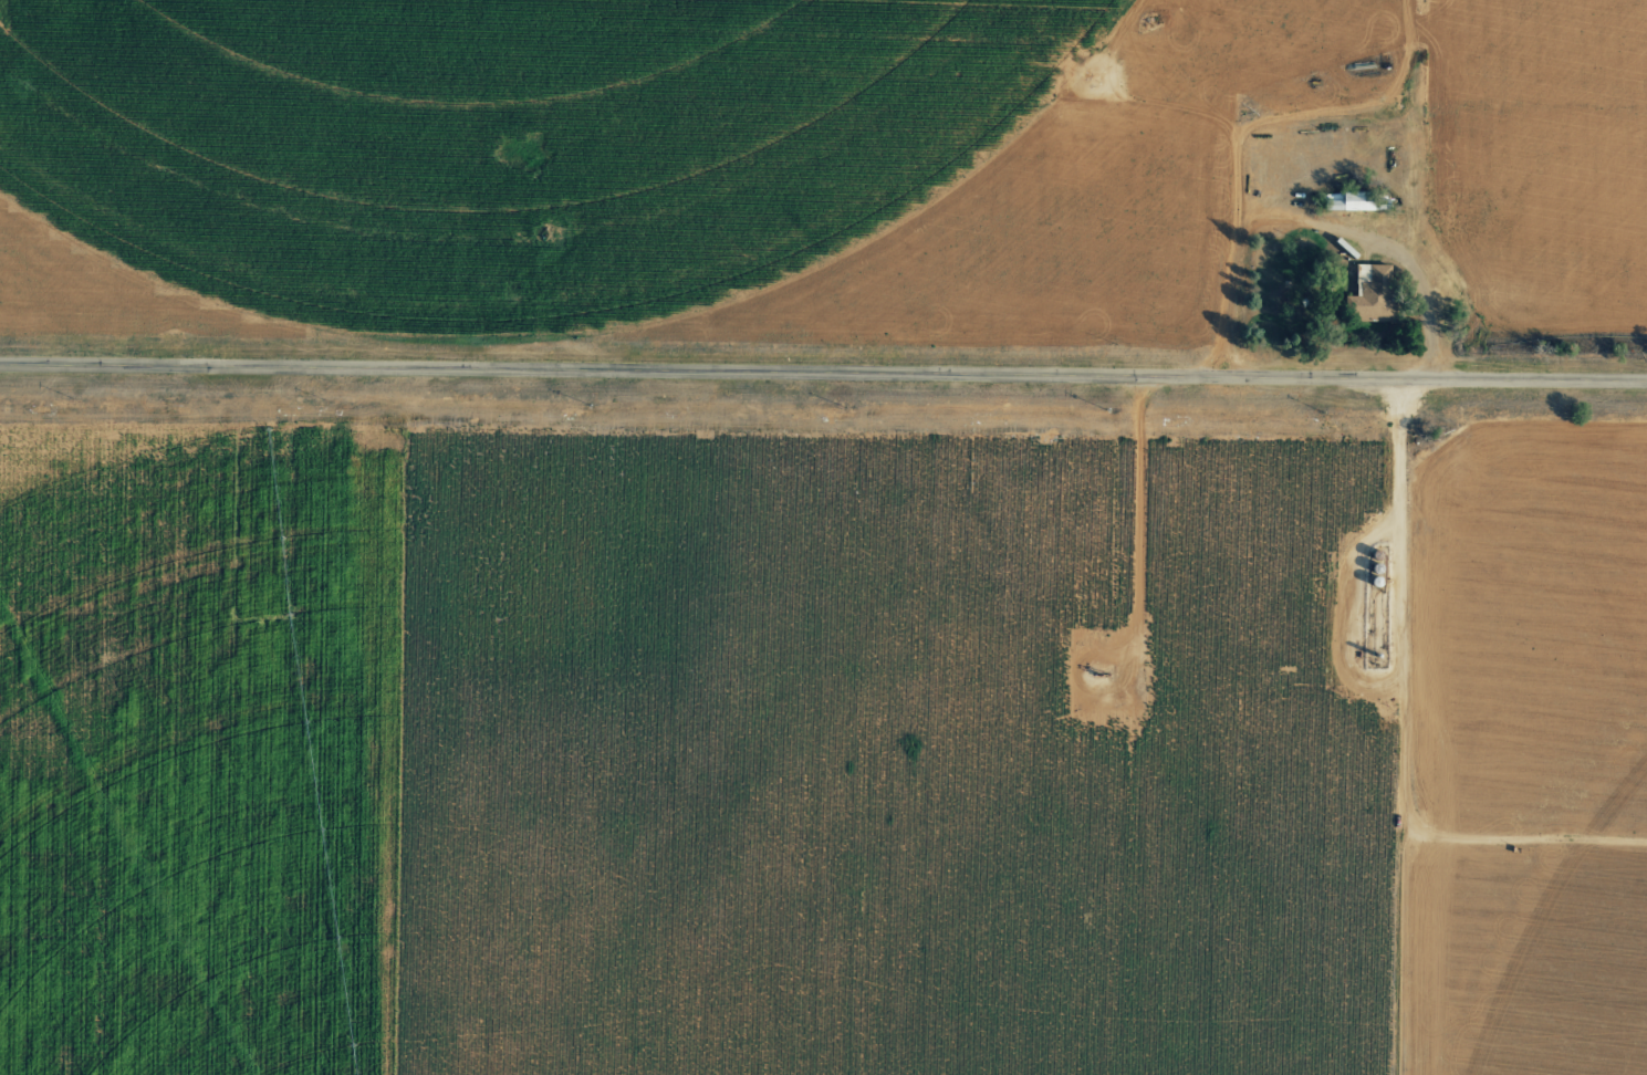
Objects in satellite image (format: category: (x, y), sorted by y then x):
petroleum well: (1090, 75)
road: (1265, 218)
road: (823, 373)
road: (1425, 537)
petroleum well: (1096, 678)

